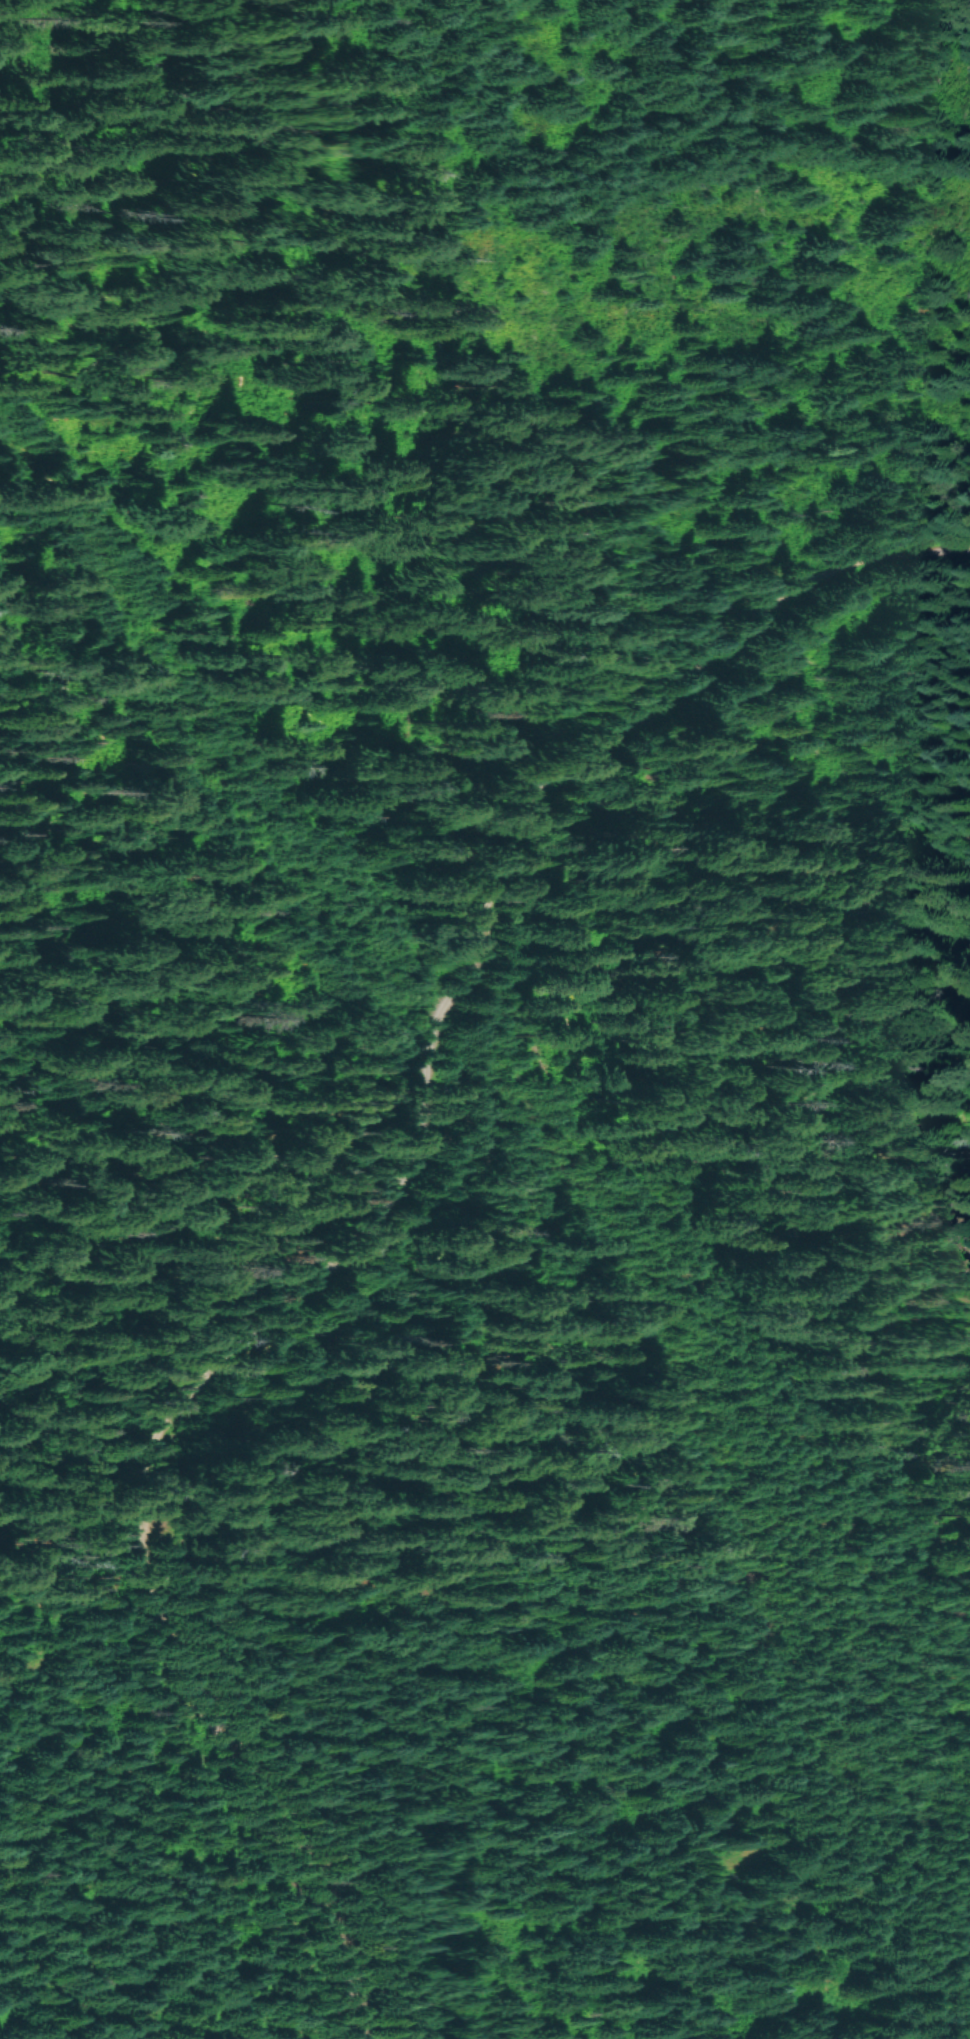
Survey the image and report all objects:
road: (373, 1220)

